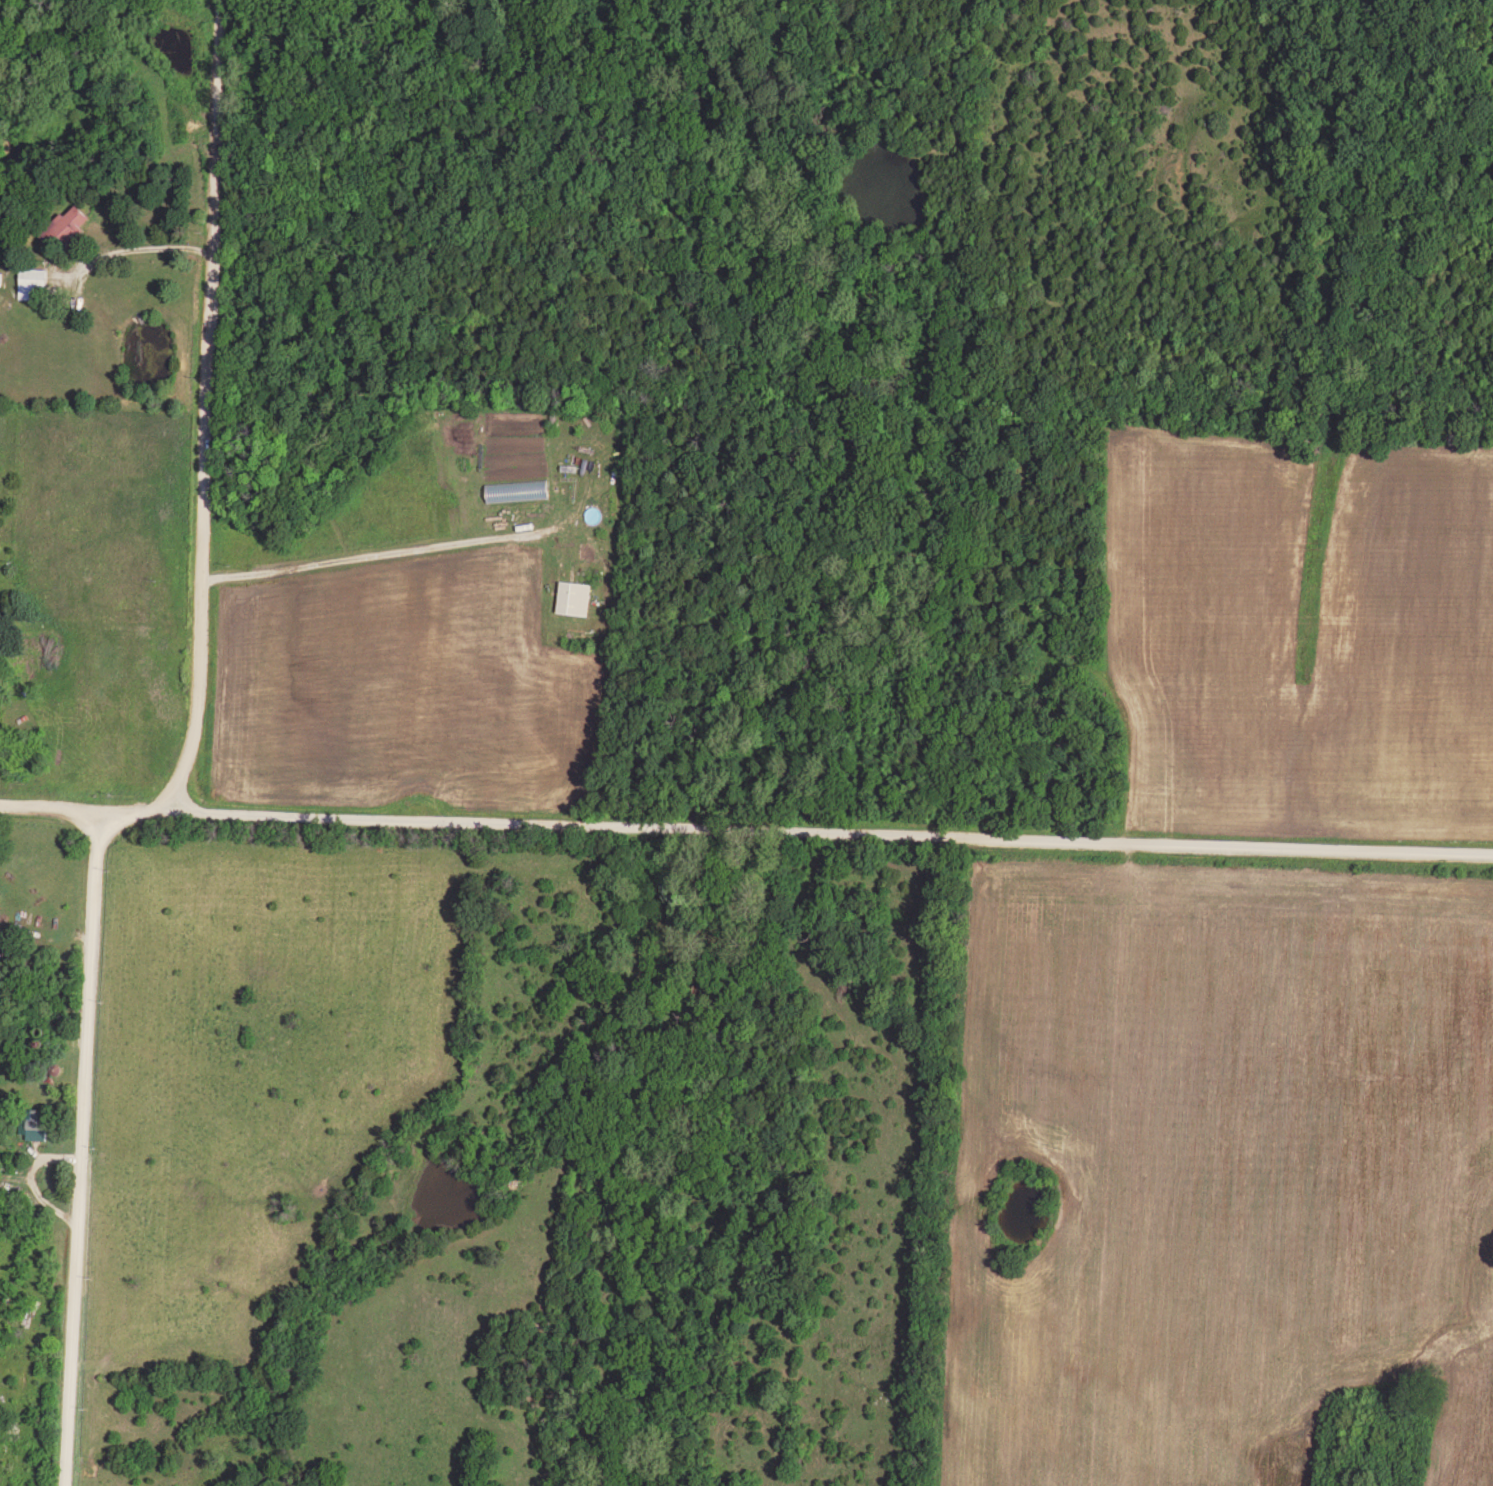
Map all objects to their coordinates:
building: (67, 224)
road: (123, 244)
building: (33, 281)
road: (206, 411)
building: (517, 489)
building: (574, 596)
road: (746, 834)
road: (46, 904)
building: (33, 1122)
road: (82, 1148)
road: (29, 1183)

